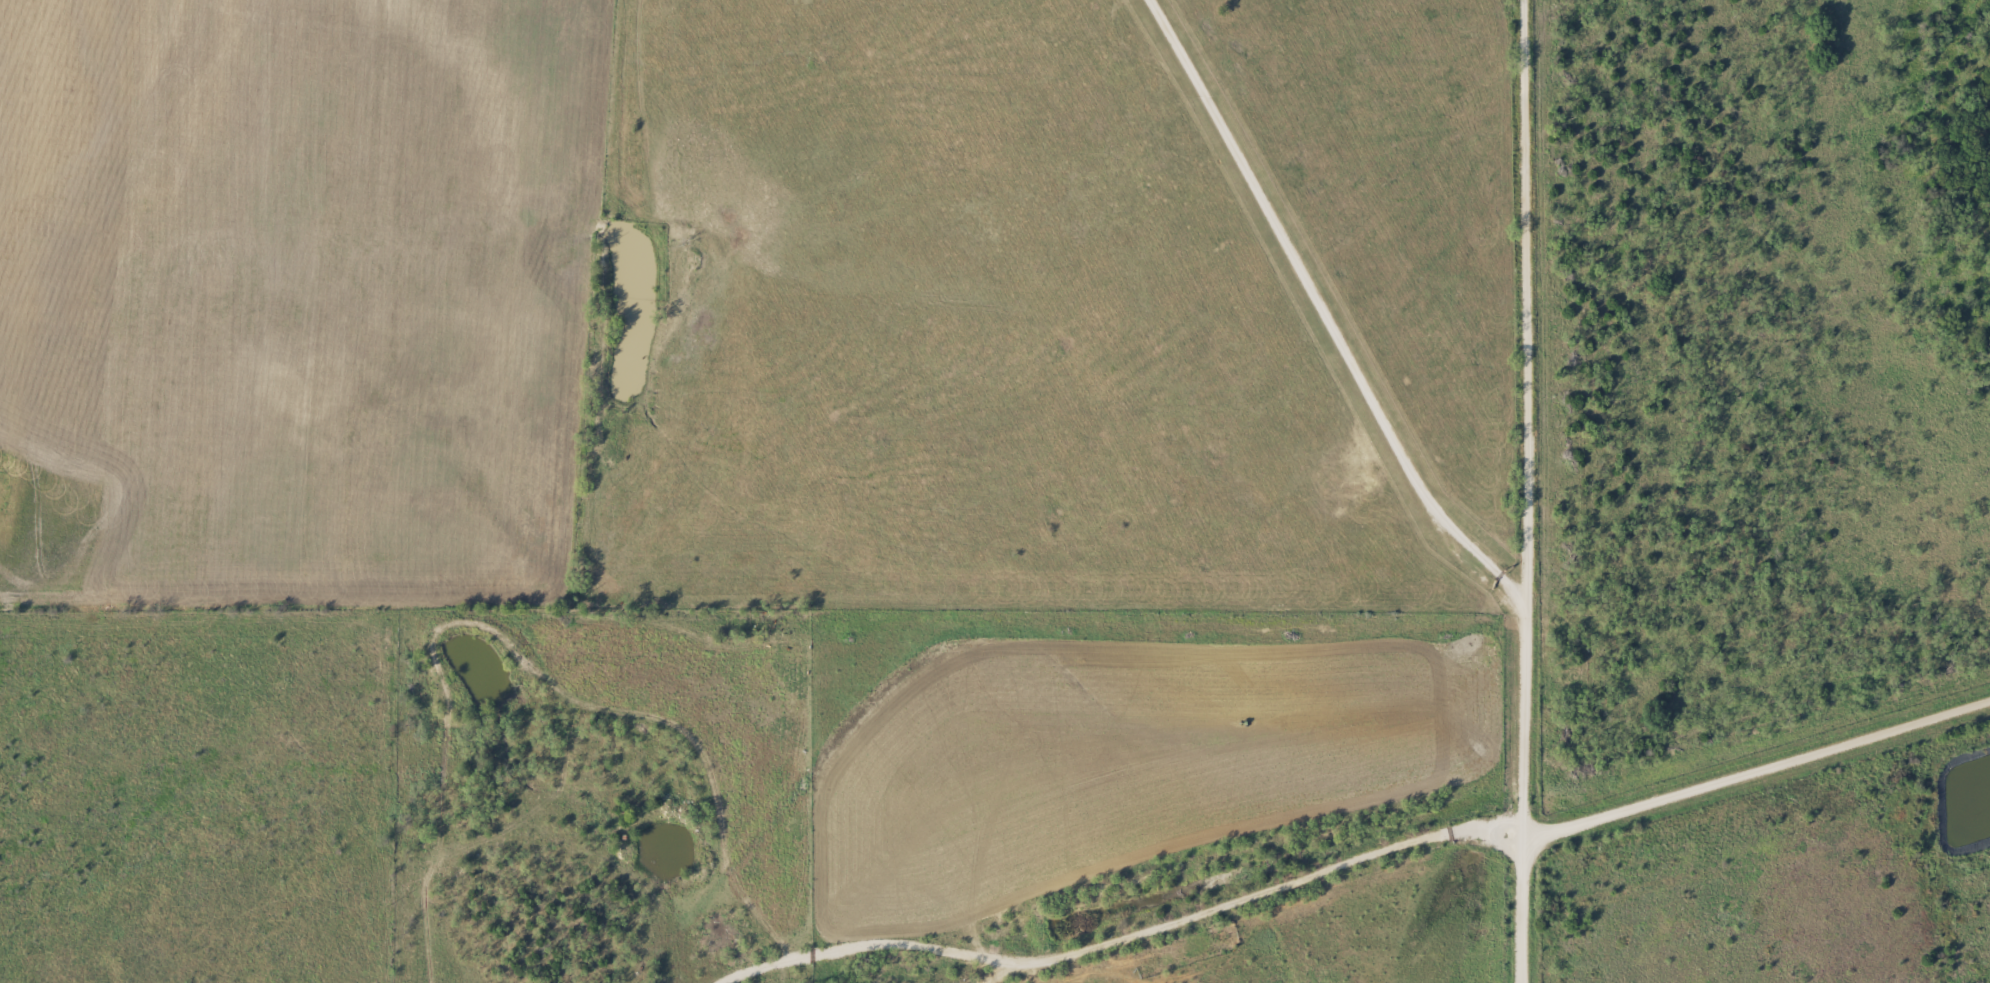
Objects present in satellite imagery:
road: (1326, 316)
road: (1524, 491)
road: (1753, 772)
railway: (1442, 816)
road: (1243, 895)

